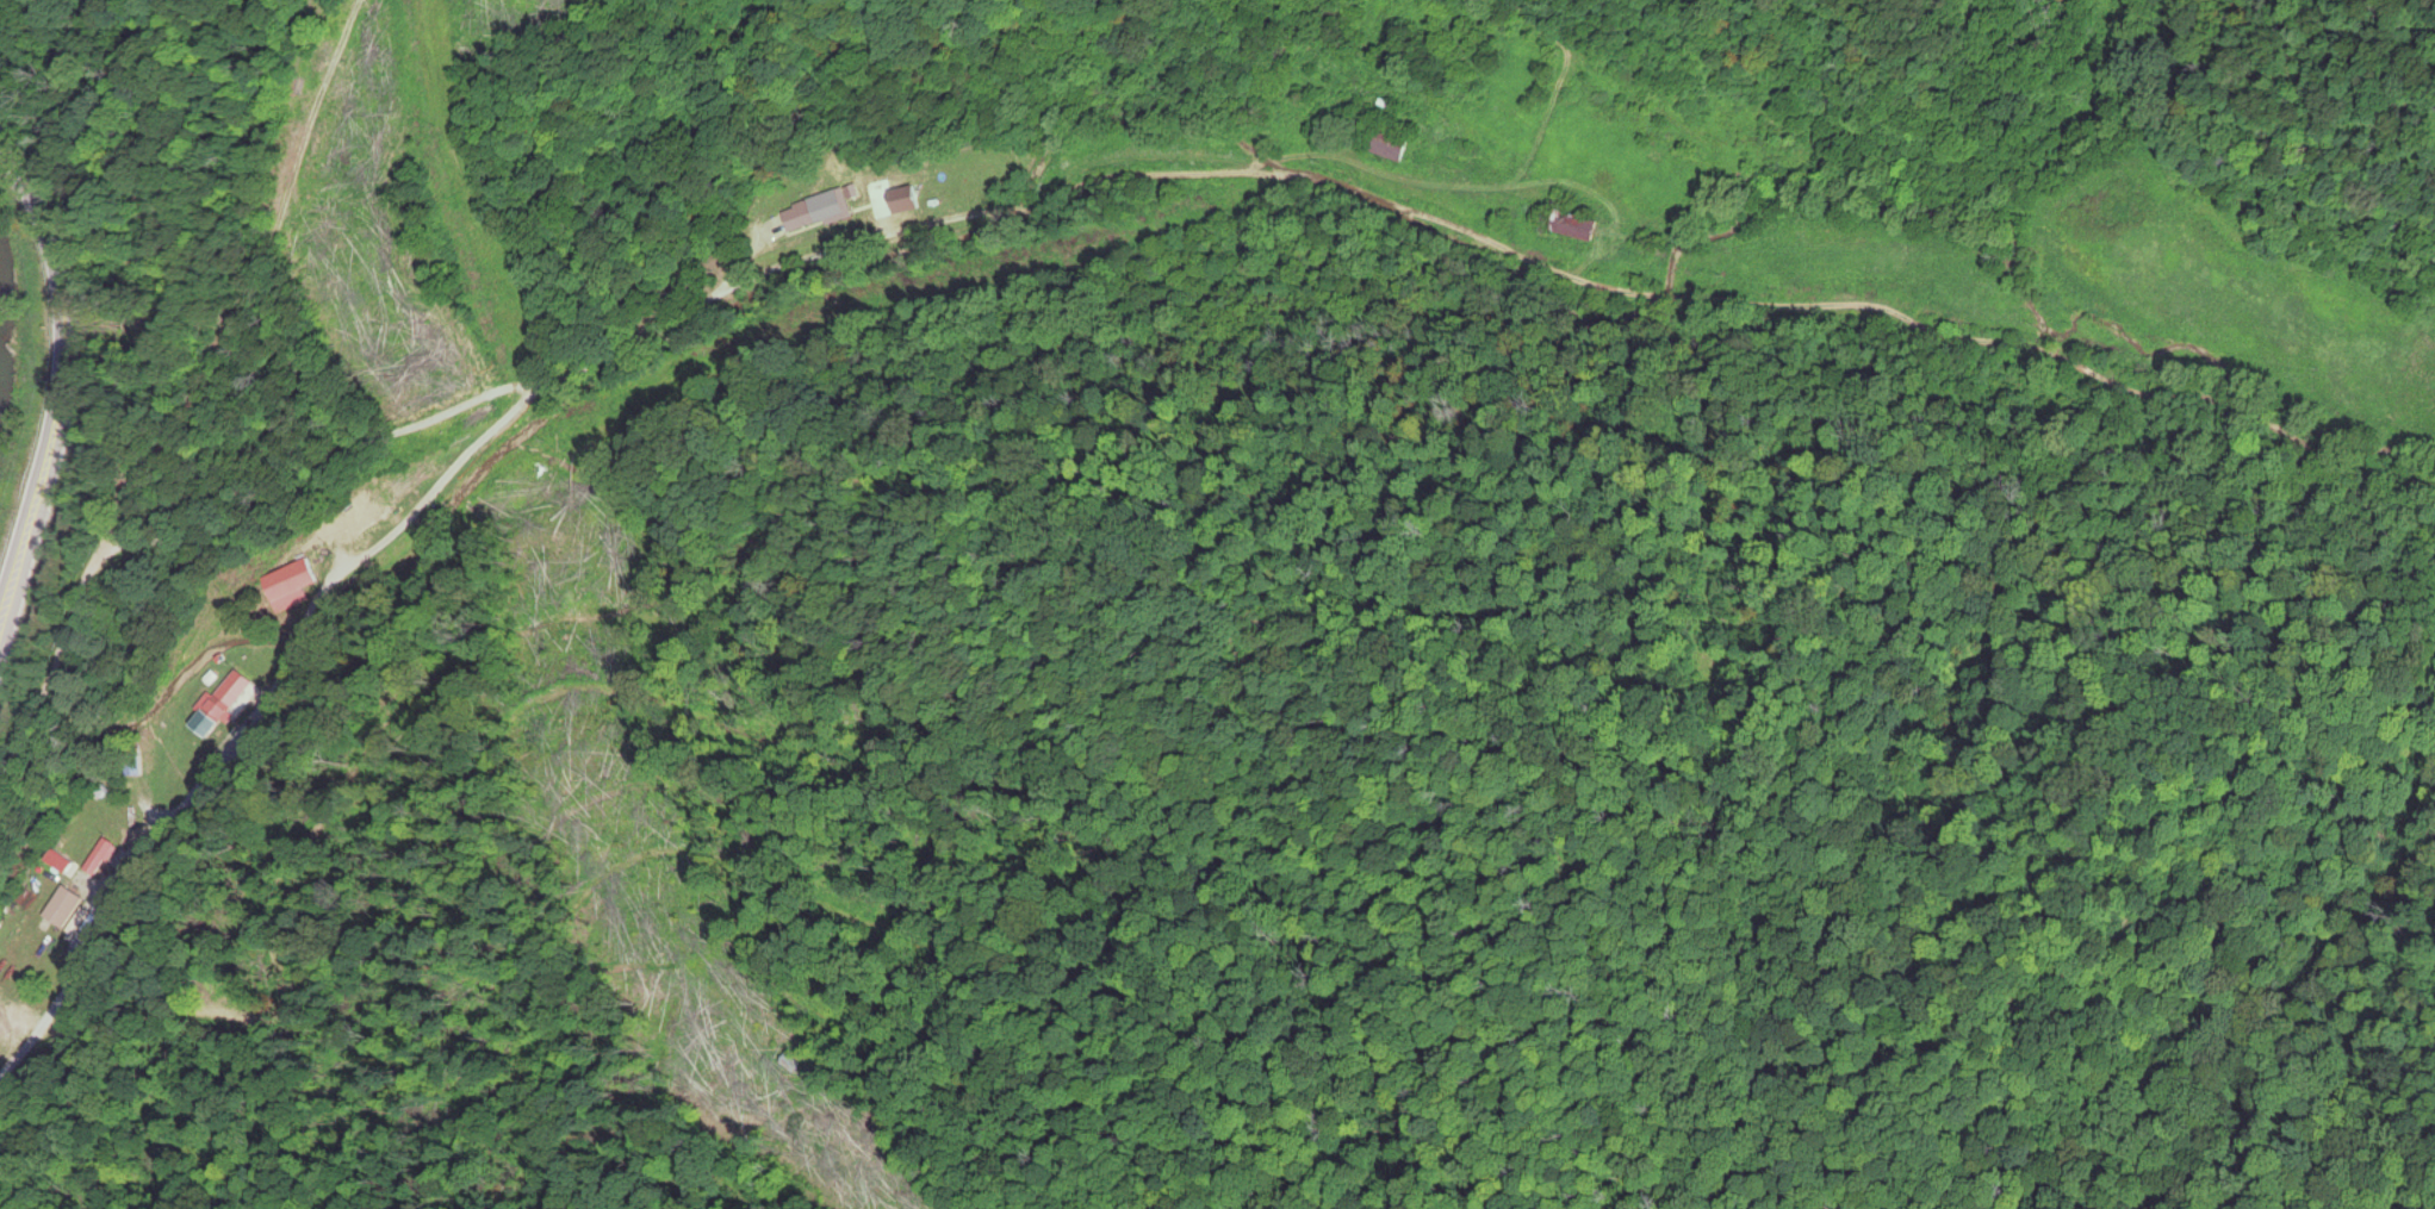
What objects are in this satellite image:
building: (1398, 148)
building: (819, 214)
building: (1588, 228)
road: (726, 278)
river: (4, 343)
road: (58, 384)
building: (410, 484)
building: (387, 510)
building: (296, 585)
building: (226, 706)
road: (611, 846)
building: (101, 858)

